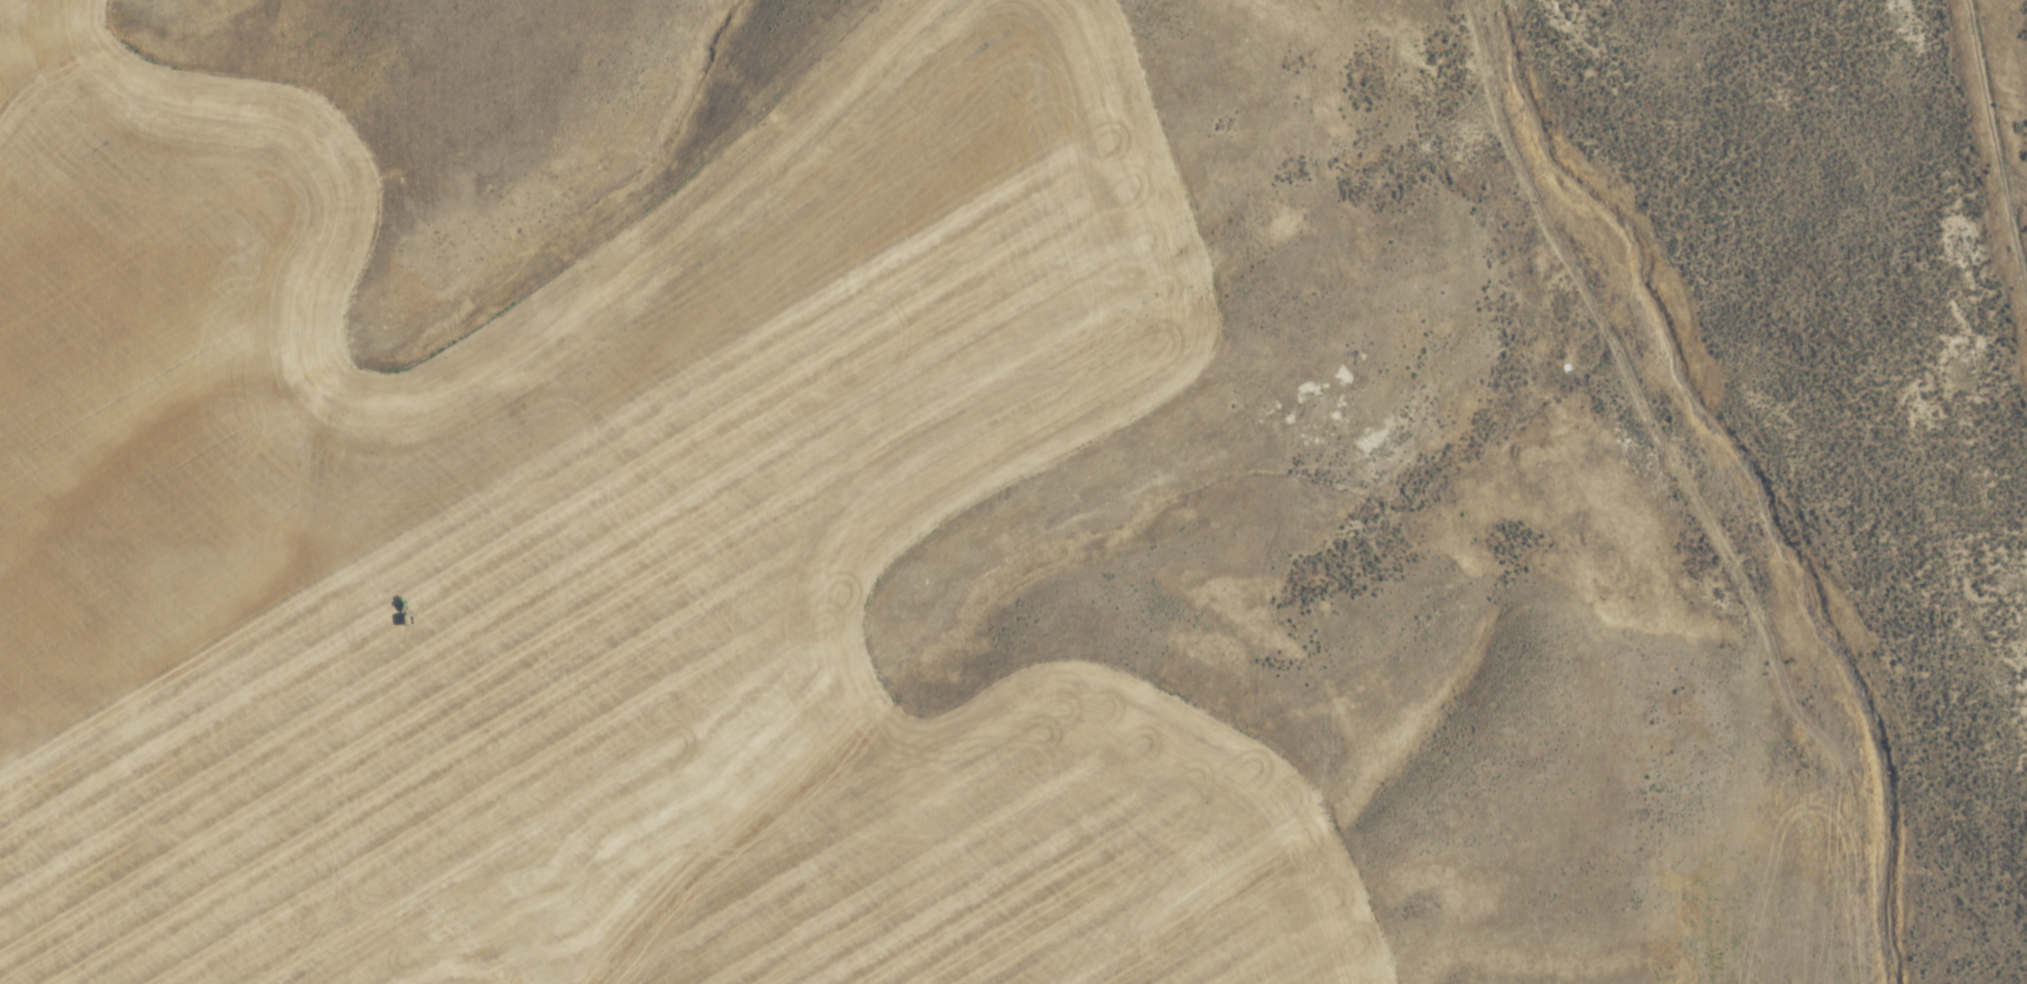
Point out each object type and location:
road: (1955, 256)

